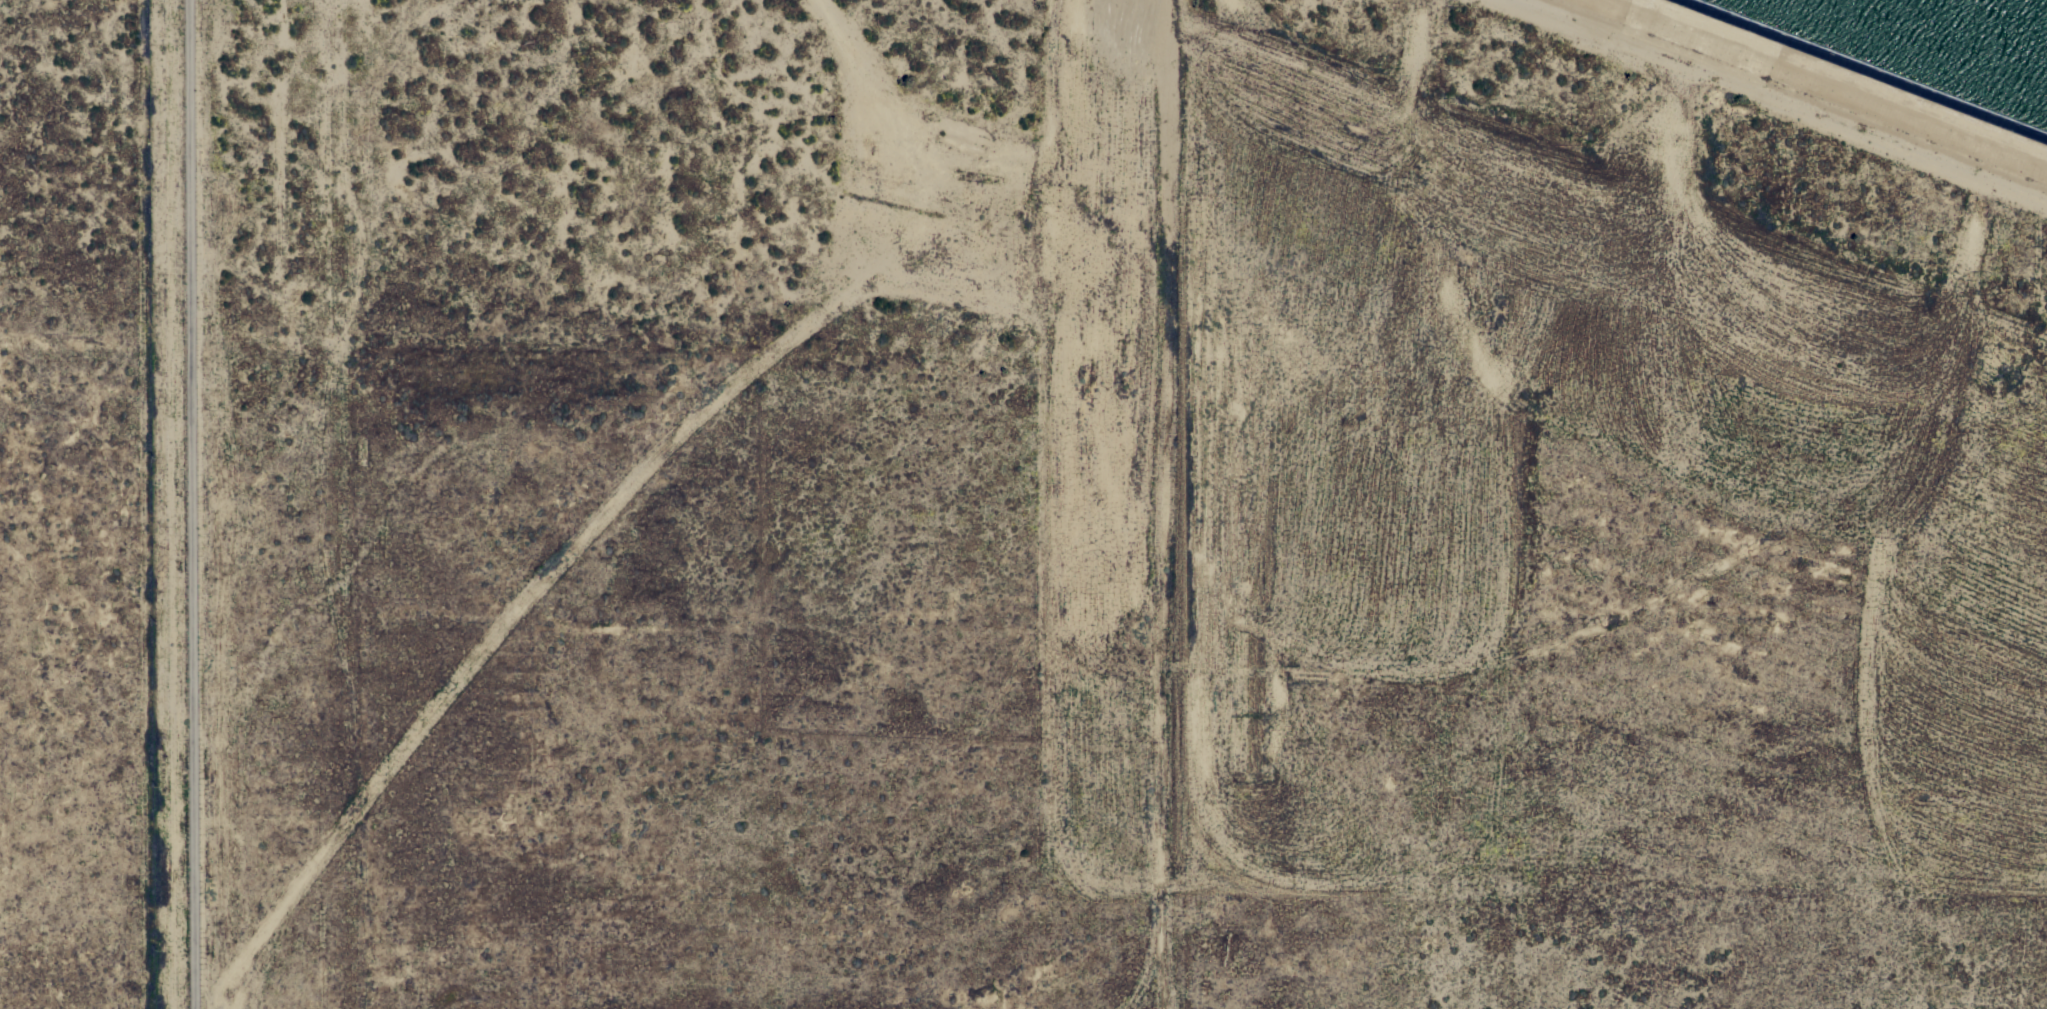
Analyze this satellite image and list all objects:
wastewater plant: (1901, 55)
road: (198, 504)

